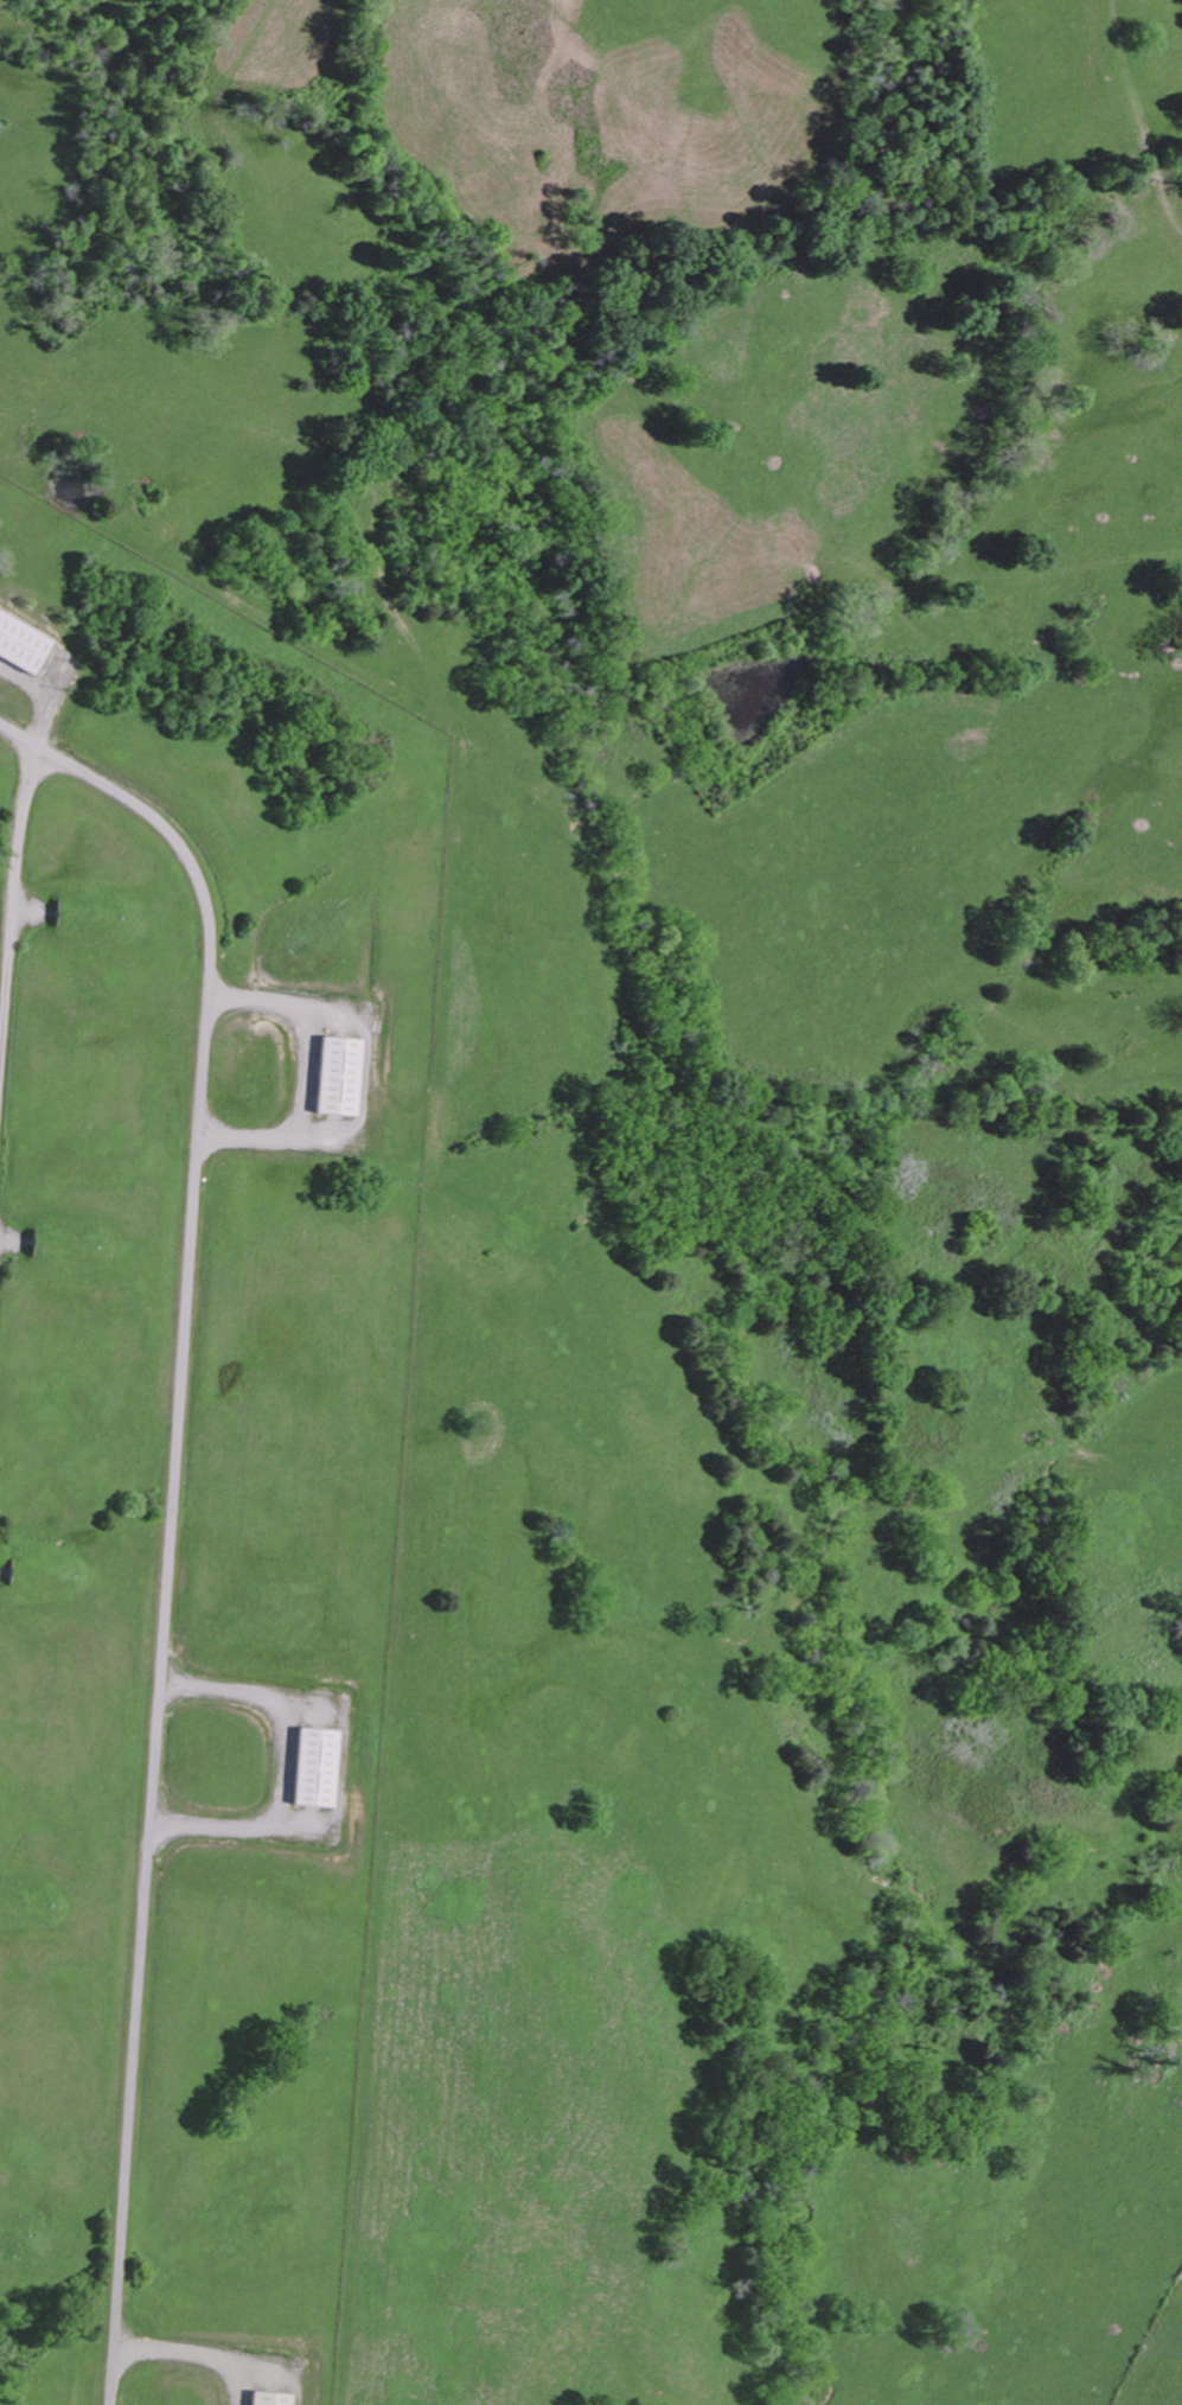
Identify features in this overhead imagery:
building: (21, 645)
road: (24, 821)
building: (338, 1074)
road: (174, 1525)
road: (192, 2355)
building: (268, 2399)

